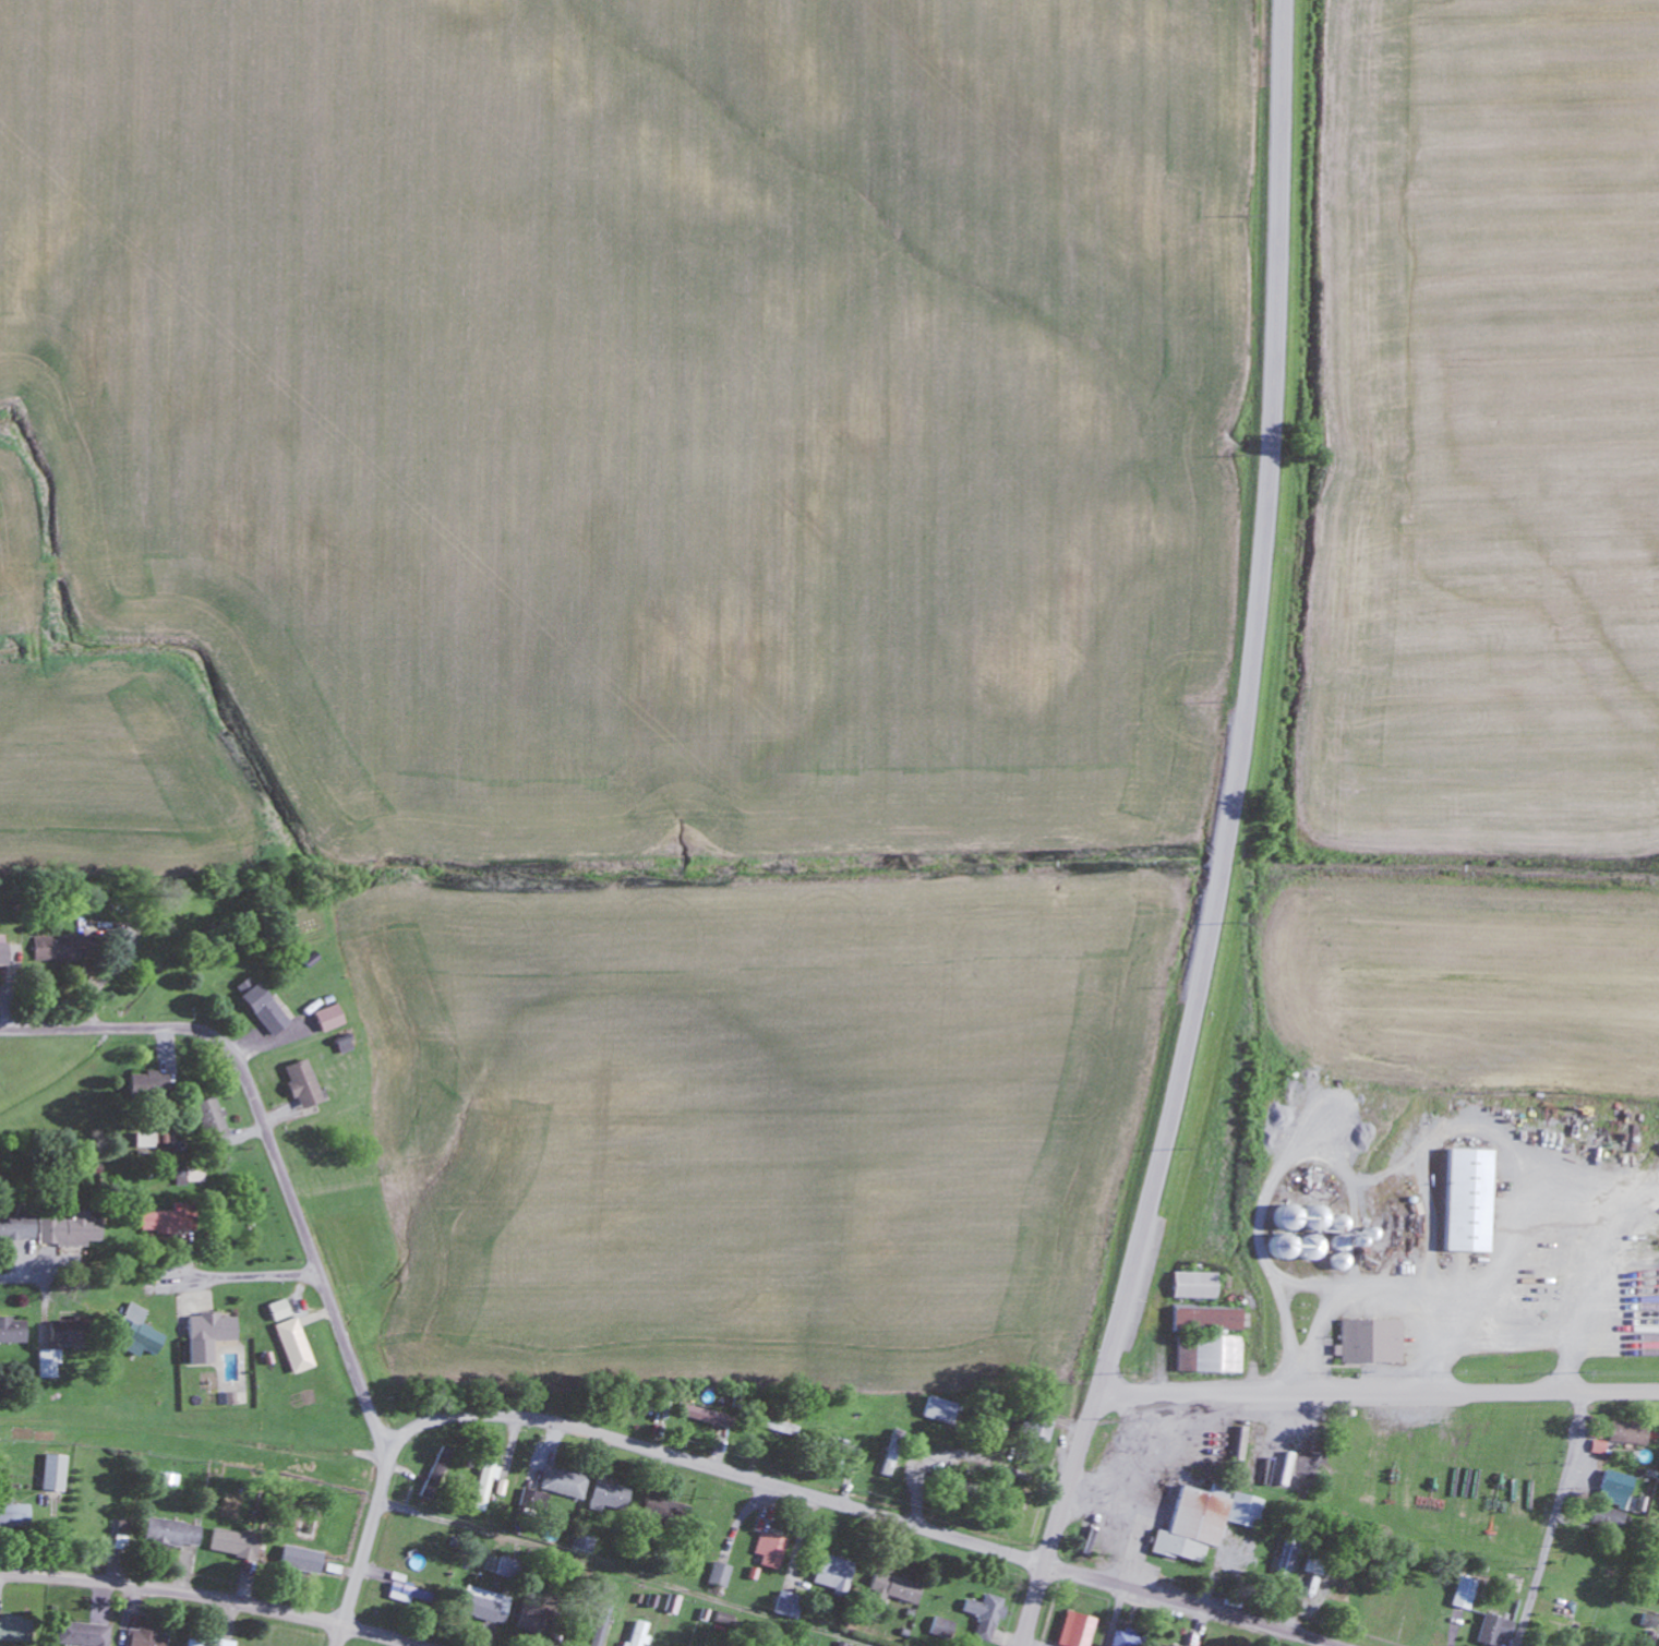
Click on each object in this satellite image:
road: (1242, 704)
building: (65, 948)
building: (4, 954)
building: (264, 1007)
building: (329, 1018)
building: (303, 1084)
building: (147, 1085)
building: (212, 1119)
road: (266, 1137)
building: (1465, 1200)
building: (170, 1220)
building: (17, 1228)
building: (47, 1229)
building: (1281, 1246)
road: (250, 1274)
road: (8, 1275)
building: (1197, 1285)
building: (1209, 1318)
building: (13, 1330)
building: (136, 1330)
building: (70, 1331)
building: (209, 1335)
building: (1369, 1342)
building: (294, 1345)
building: (1210, 1354)
building: (48, 1363)
road: (1377, 1389)
building: (940, 1410)
building: (707, 1418)
building: (780, 1427)
building: (1037, 1429)
building: (1624, 1433)
road: (193, 1440)
building: (891, 1453)
road: (714, 1466)
building: (55, 1473)
building: (563, 1482)
building: (1611, 1489)
building: (435, 1492)
building: (609, 1497)
building: (656, 1504)
building: (14, 1515)
road: (1055, 1518)
road: (1553, 1519)
building: (1205, 1522)
building: (172, 1534)
building: (120, 1536)
building: (235, 1543)
building: (582, 1543)
road: (366, 1547)
building: (770, 1550)
building: (301, 1560)
building: (1318, 1566)
building: (501, 1567)
road: (616, 1574)
building: (832, 1574)
building: (718, 1575)
building: (894, 1588)
building: (407, 1594)
building: (1459, 1594)
road: (217, 1595)
building: (672, 1603)
road: (1192, 1603)
building: (788, 1605)
building: (483, 1606)
building: (985, 1617)
building: (549, 1623)
building: (938, 1626)
building: (15, 1629)
building: (1081, 1631)
building: (1489, 1632)
building: (87, 1634)
building: (638, 1634)
building: (146, 1637)
building: (1126, 1638)
building: (208, 1642)

